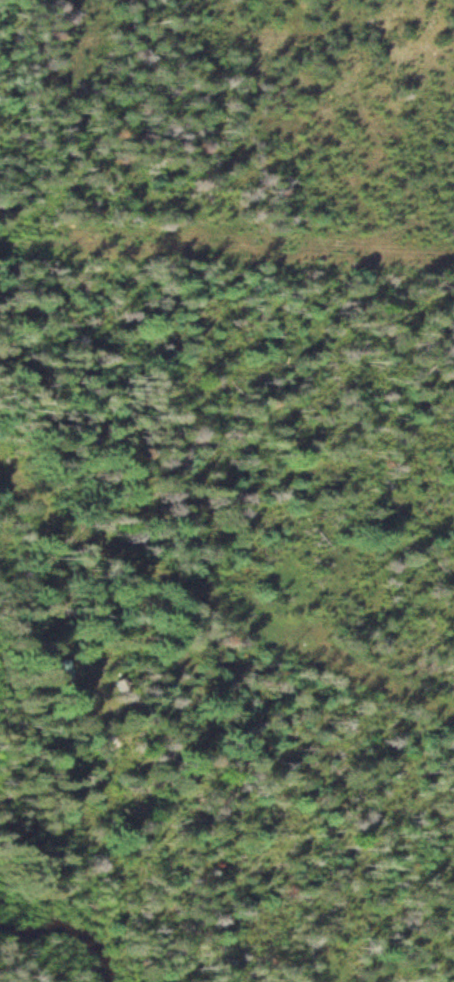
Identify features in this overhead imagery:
road: (9, 543)
building: (57, 672)
river: (66, 930)

